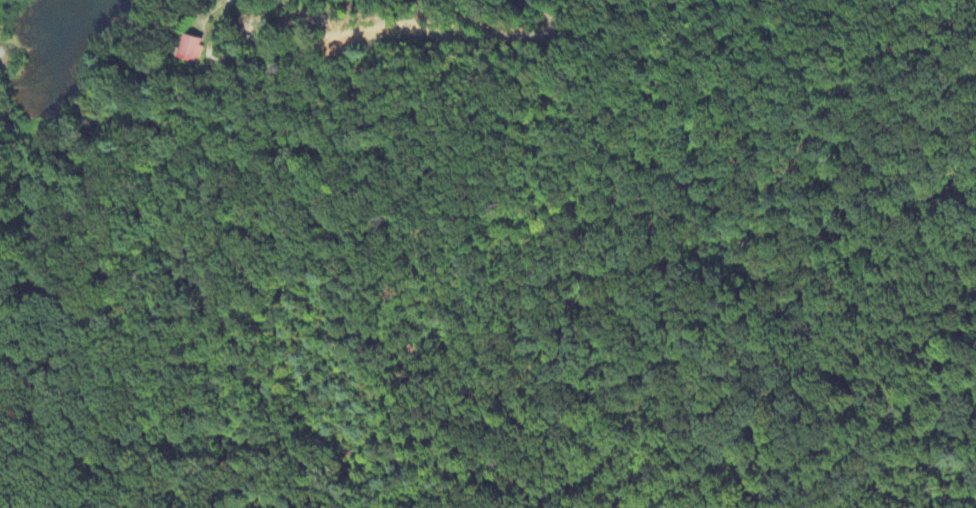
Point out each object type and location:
road: (218, 22)
building: (191, 51)

